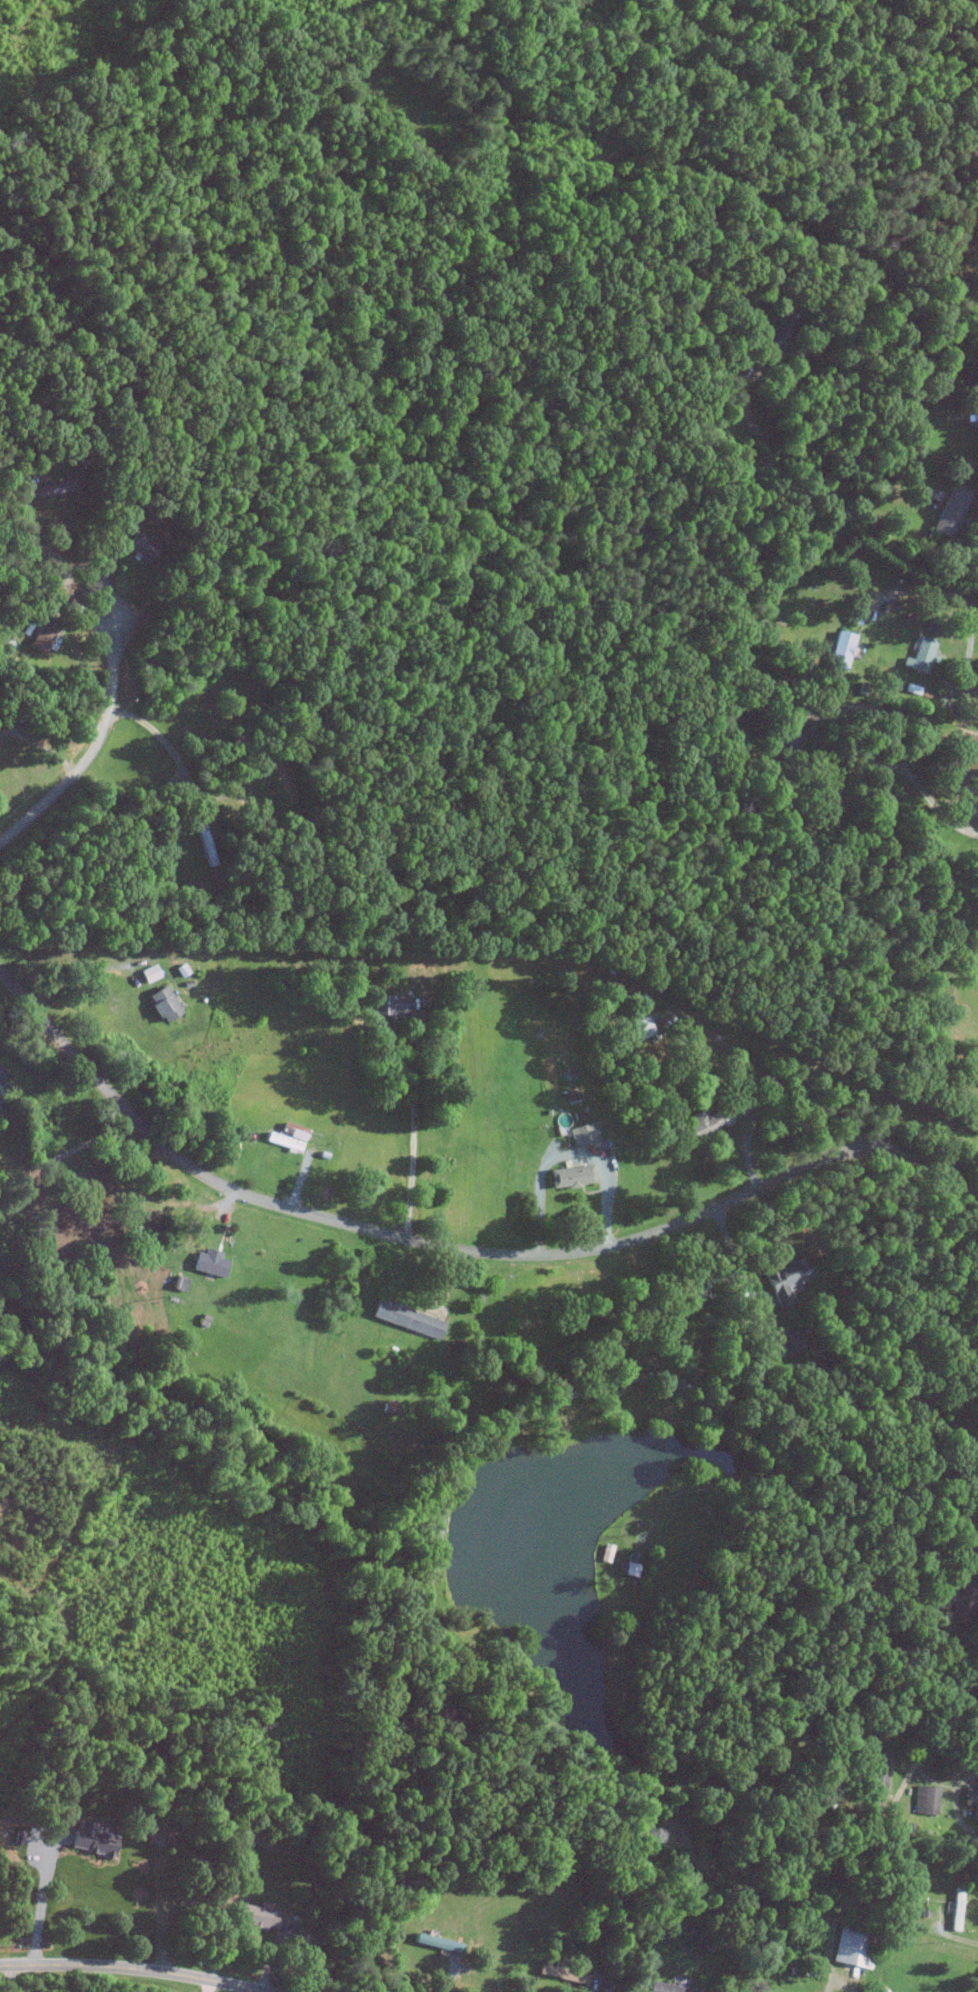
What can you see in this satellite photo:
building: (779, 335)
road: (830, 508)
building: (950, 511)
building: (143, 546)
road: (966, 551)
road: (74, 562)
road: (963, 604)
building: (45, 636)
building: (840, 650)
building: (921, 655)
road: (826, 713)
road: (39, 746)
road: (91, 749)
road: (178, 765)
road: (938, 809)
building: (149, 972)
road: (78, 978)
building: (163, 1002)
building: (389, 1003)
building: (635, 1029)
road: (781, 1089)
building: (705, 1120)
building: (583, 1134)
building: (295, 1135)
road: (411, 1135)
building: (281, 1141)
road: (66, 1152)
road: (569, 1155)
building: (569, 1176)
road: (456, 1249)
road: (736, 1259)
building: (208, 1262)
building: (783, 1278)
building: (405, 1318)
building: (784, 1344)
road: (680, 1382)
road: (699, 1488)
road: (961, 1537)
building: (628, 1564)
building: (961, 1606)
building: (876, 1769)
road: (933, 1781)
building: (924, 1799)
building: (971, 1799)
road: (955, 1802)
building: (87, 1839)
road: (892, 1841)
road: (267, 1892)
road: (40, 1905)
building: (252, 1916)
road: (956, 1937)
building: (851, 1950)
road: (134, 1968)
building: (560, 1974)
road: (838, 1978)
road: (207, 1986)
building: (664, 1988)

